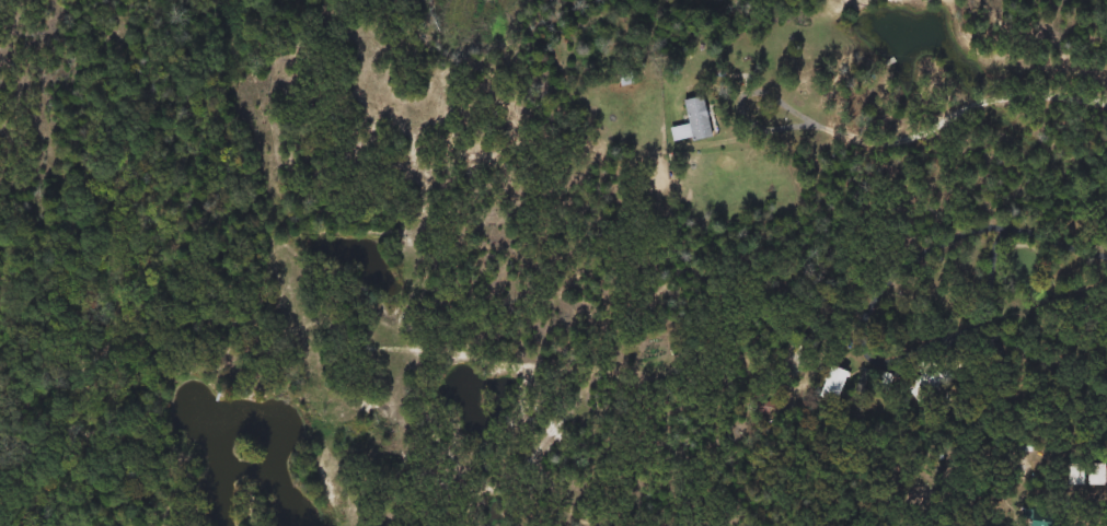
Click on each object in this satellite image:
building: (691, 122)
road: (930, 131)
road: (1027, 231)
building: (796, 363)

